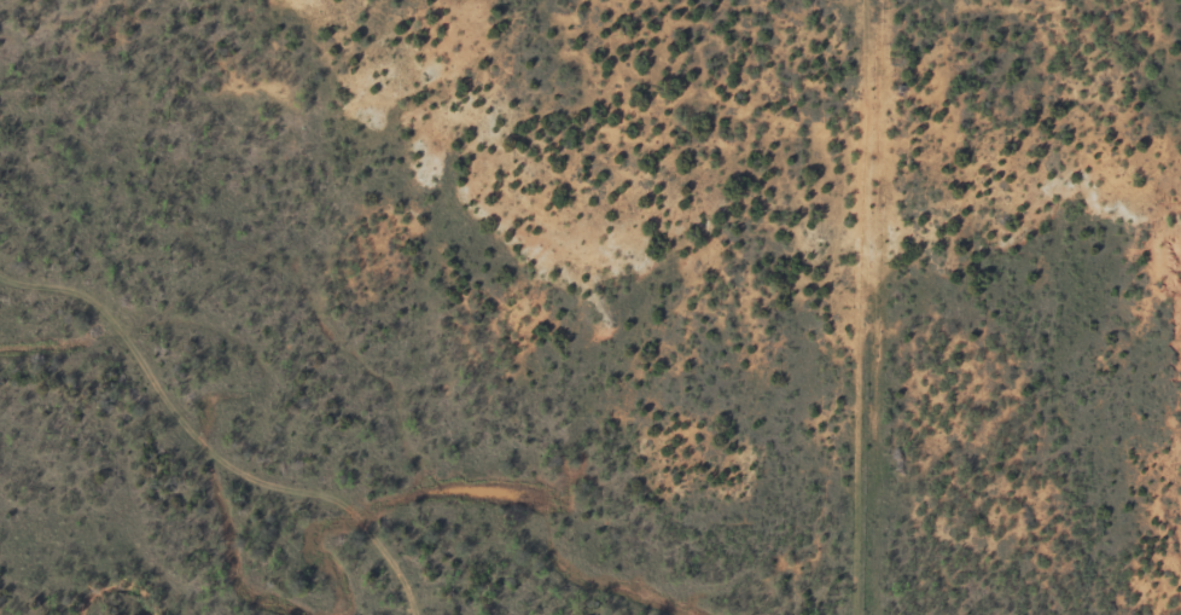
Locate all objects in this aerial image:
road: (204, 460)

